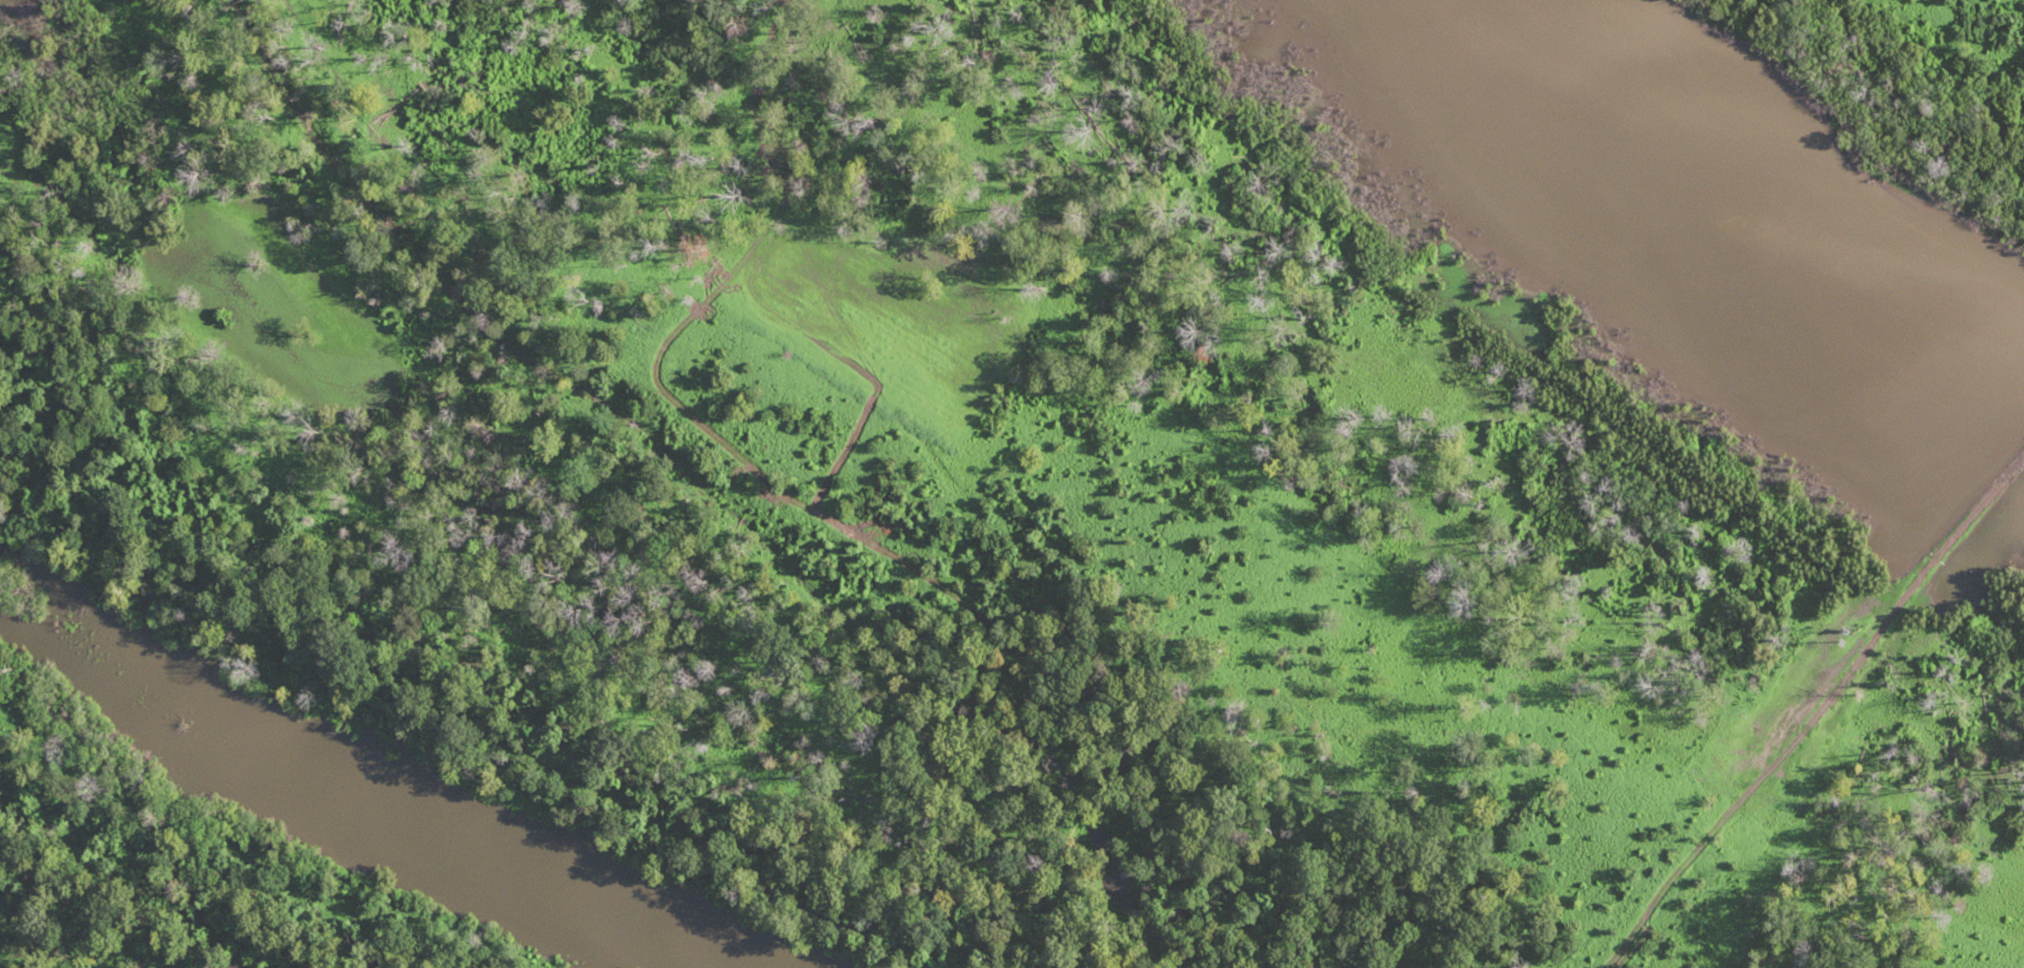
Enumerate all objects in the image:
road: (1865, 696)
road: (549, 773)

